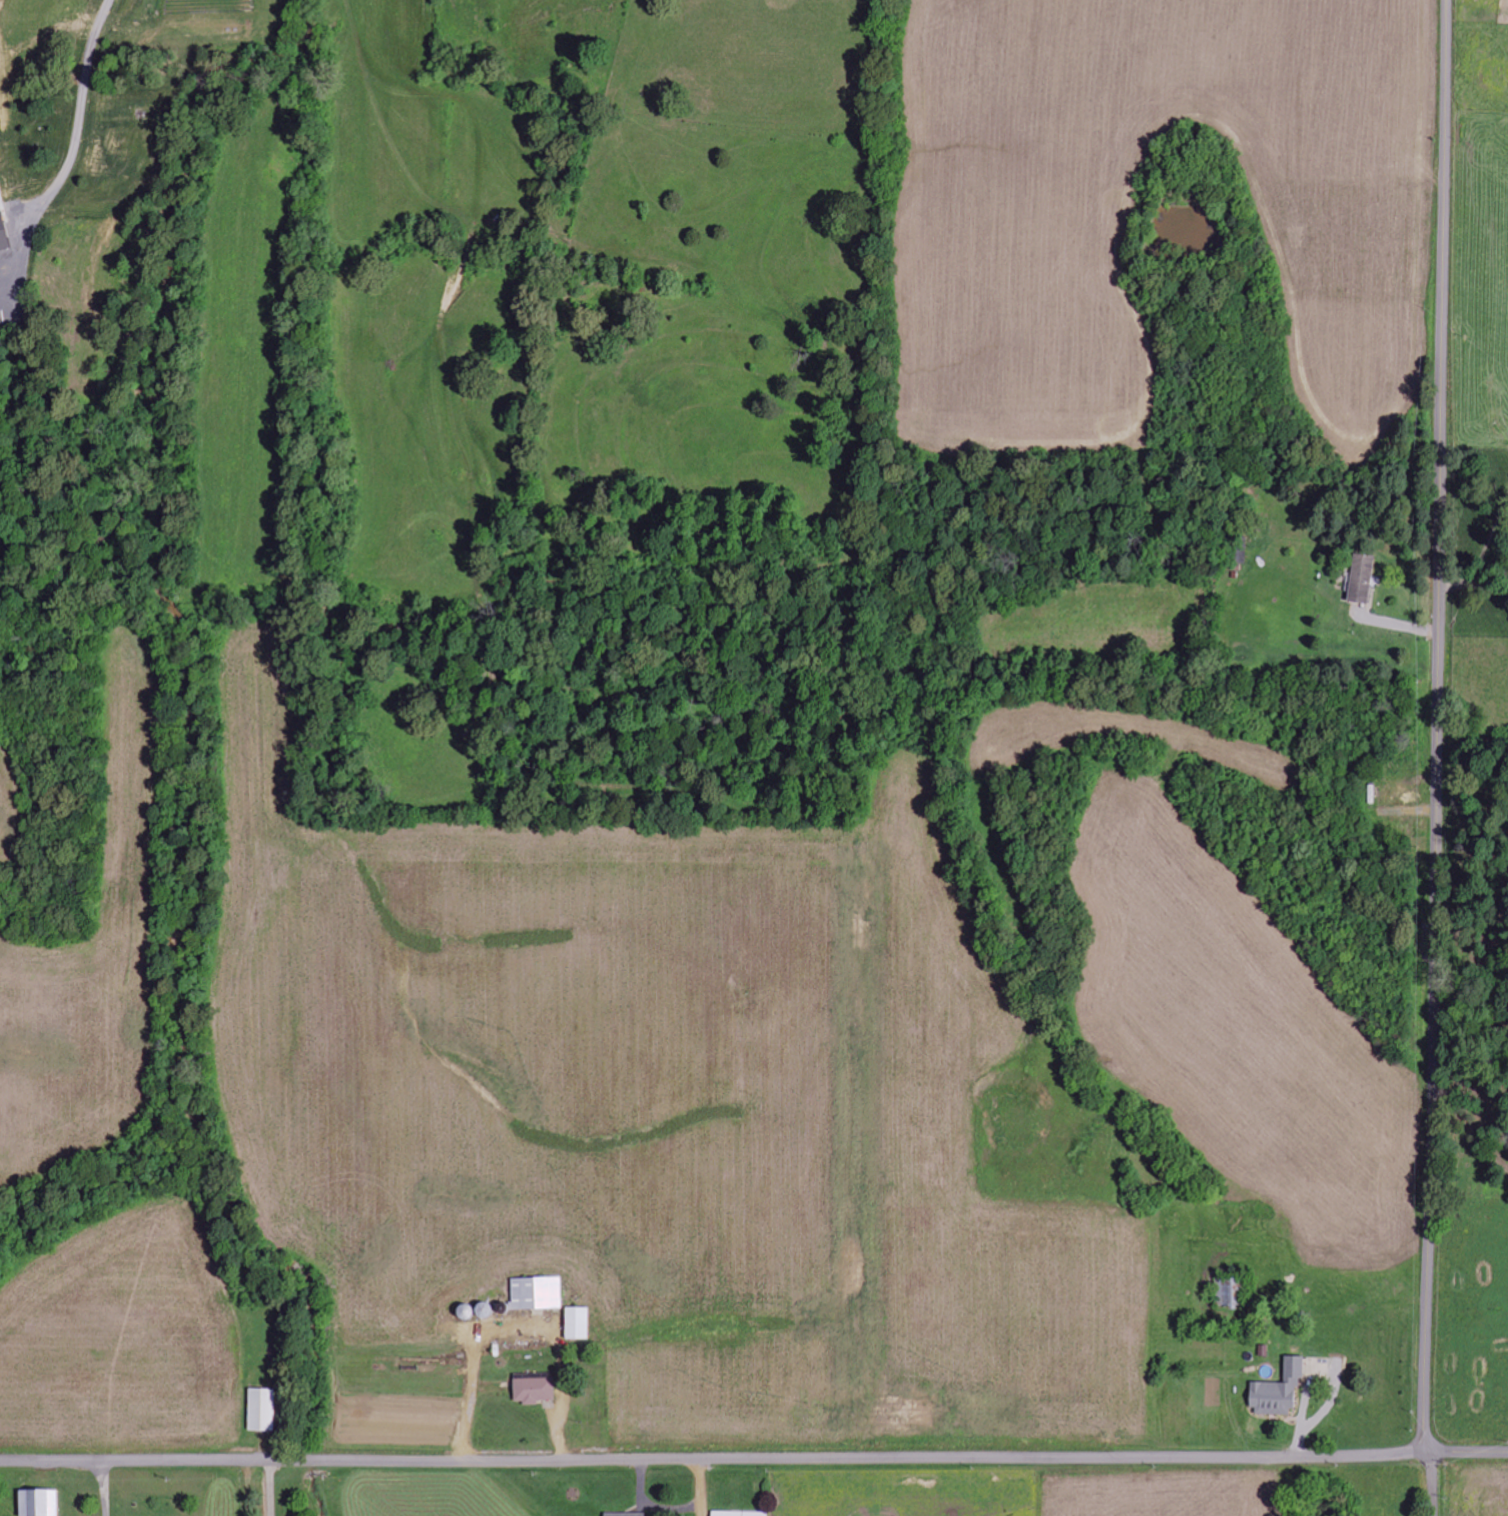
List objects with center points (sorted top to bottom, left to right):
building: (4, 231)
building: (1362, 580)
road: (1440, 726)
building: (1231, 1293)
building: (537, 1294)
building: (579, 1324)
building: (535, 1389)
building: (1280, 1392)
building: (264, 1410)
road: (1467, 1451)
road: (713, 1458)
road: (1427, 1484)
building: (41, 1503)
building: (628, 1514)
building: (740, 1514)

